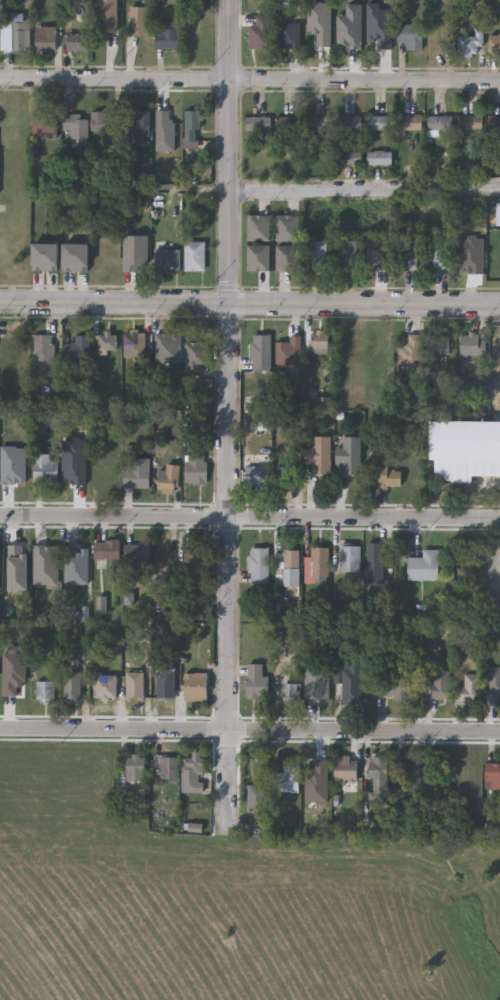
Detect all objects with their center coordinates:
building: (106, 17)
building: (138, 20)
building: (260, 32)
building: (16, 33)
building: (167, 35)
building: (410, 35)
building: (288, 36)
building: (46, 40)
building: (76, 42)
building: (469, 43)
building: (494, 45)
road: (249, 81)
building: (105, 122)
building: (140, 123)
building: (380, 123)
building: (441, 123)
building: (471, 123)
building: (46, 124)
building: (258, 124)
building: (289, 124)
building: (319, 124)
building: (348, 124)
building: (410, 124)
building: (495, 124)
building: (77, 127)
building: (192, 130)
building: (350, 158)
building: (380, 159)
road: (364, 190)
building: (259, 228)
building: (288, 228)
building: (440, 254)
building: (471, 254)
building: (319, 255)
building: (350, 255)
building: (46, 256)
building: (195, 256)
building: (77, 257)
building: (409, 257)
building: (259, 258)
building: (288, 258)
building: (167, 259)
road: (250, 304)
building: (320, 339)
building: (108, 341)
building: (135, 344)
building: (438, 344)
building: (473, 345)
building: (168, 348)
building: (78, 349)
building: (261, 352)
building: (289, 352)
building: (44, 353)
building: (411, 355)
building: (197, 357)
road: (226, 416)
building: (465, 449)
building: (320, 454)
building: (350, 454)
building: (45, 468)
building: (197, 469)
building: (137, 472)
building: (259, 474)
building: (286, 474)
building: (388, 475)
building: (169, 478)
road: (249, 517)
building: (107, 549)
building: (350, 556)
building: (375, 557)
building: (137, 558)
building: (195, 559)
building: (287, 559)
building: (319, 561)
building: (258, 565)
building: (424, 565)
building: (2, 569)
parking lot: (492, 576)
building: (348, 679)
building: (256, 681)
building: (493, 681)
building: (165, 684)
building: (135, 685)
building: (195, 685)
building: (392, 685)
building: (438, 685)
building: (105, 686)
building: (72, 687)
building: (468, 688)
building: (44, 691)
building: (291, 693)
road: (249, 731)
building: (135, 767)
building: (168, 767)
building: (313, 767)
building: (345, 768)
building: (192, 772)
building: (379, 775)
building: (408, 775)
building: (492, 776)
building: (289, 779)
building: (257, 796)

